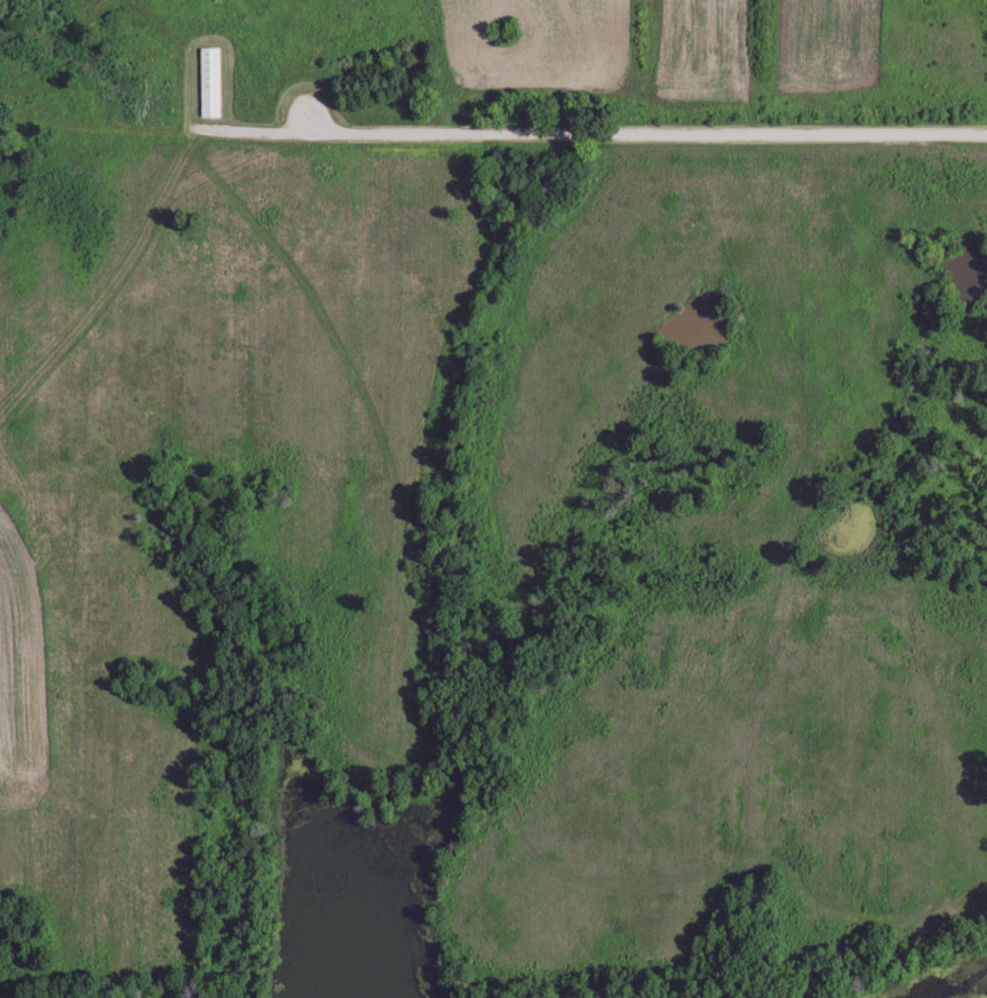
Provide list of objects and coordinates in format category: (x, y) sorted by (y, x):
building: (211, 82)
road: (598, 132)

